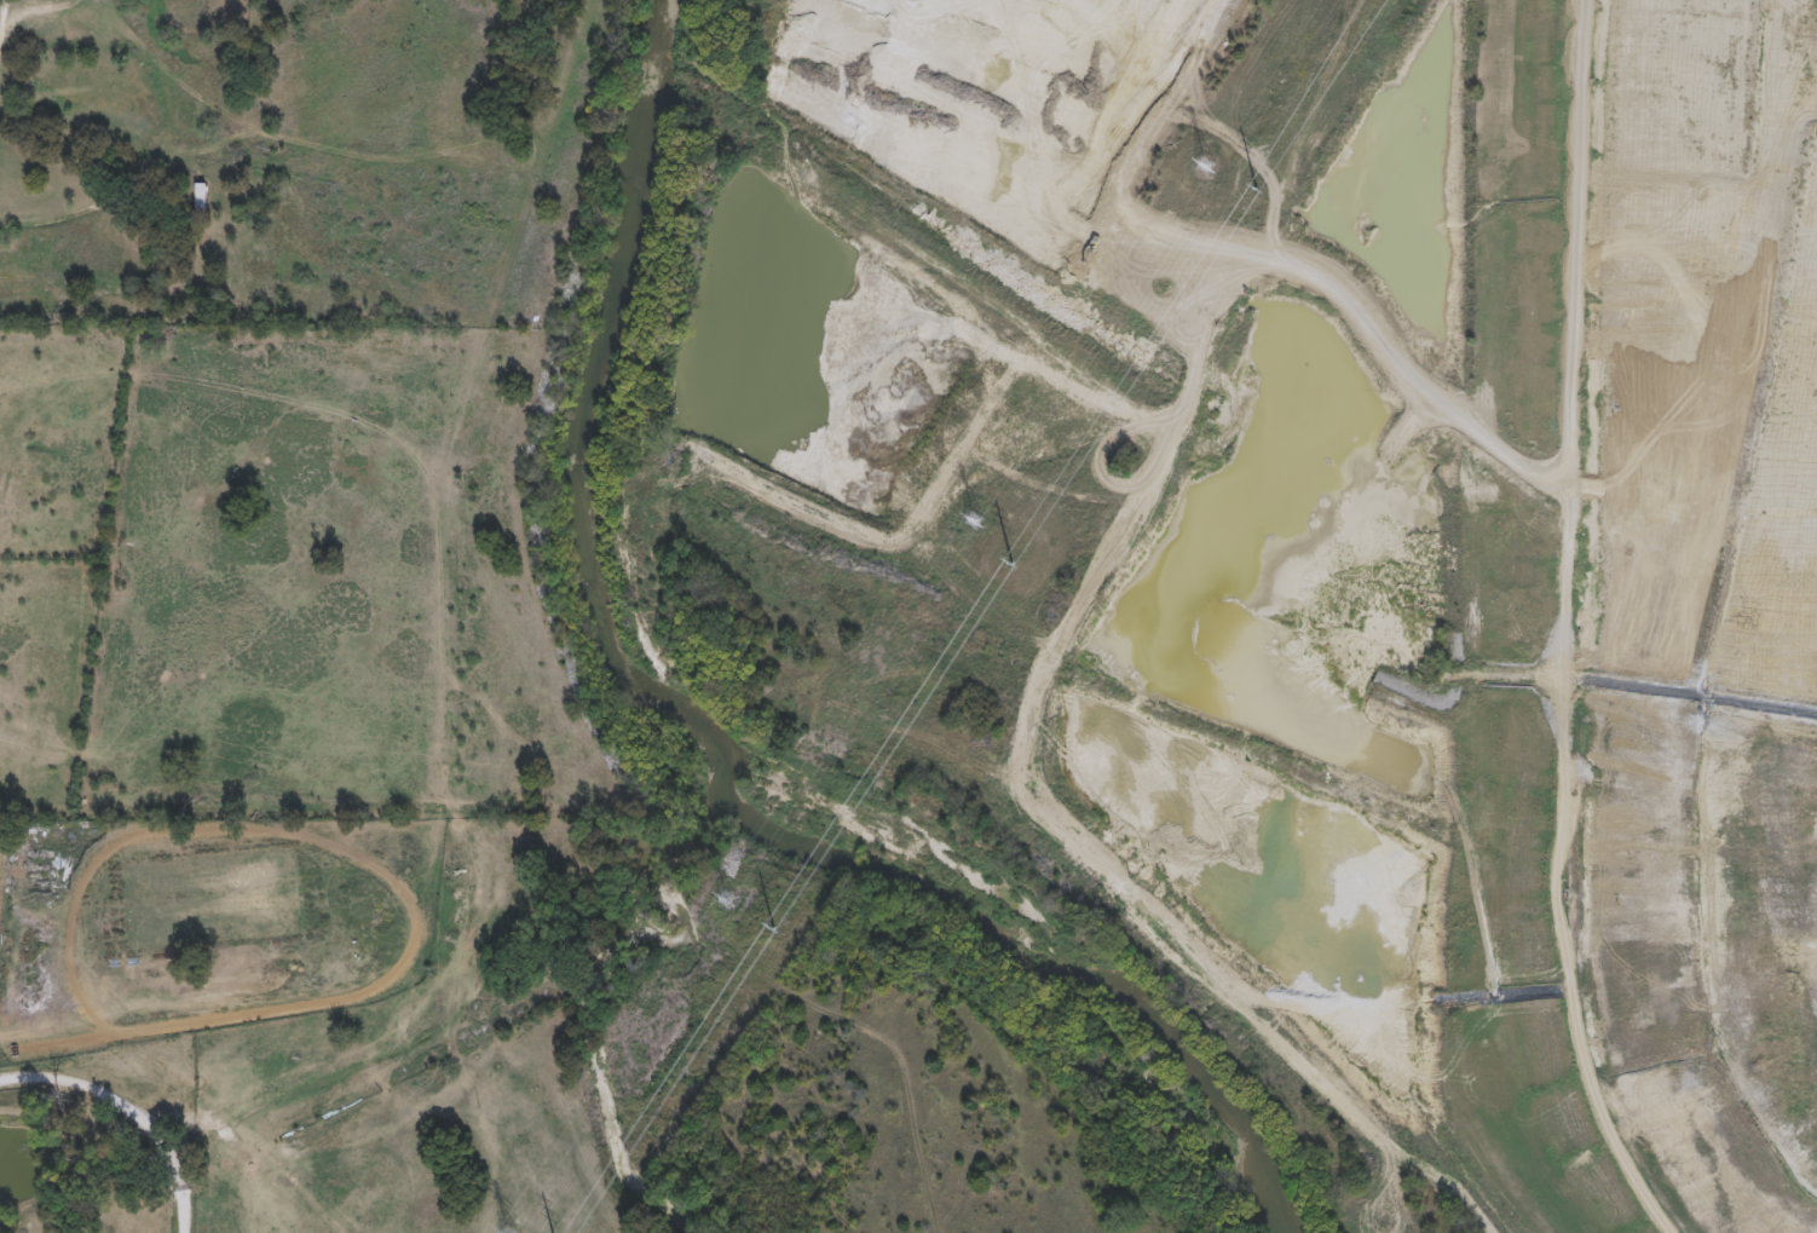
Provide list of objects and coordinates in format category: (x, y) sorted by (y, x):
road: (8, 53)
power tower: (1206, 163)
power tower: (1257, 188)
road: (76, 214)
power tower: (974, 520)
landfill: (1314, 534)
power tower: (1013, 561)
building: (1731, 613)
power tower: (729, 898)
power tower: (773, 928)
road: (128, 1113)

